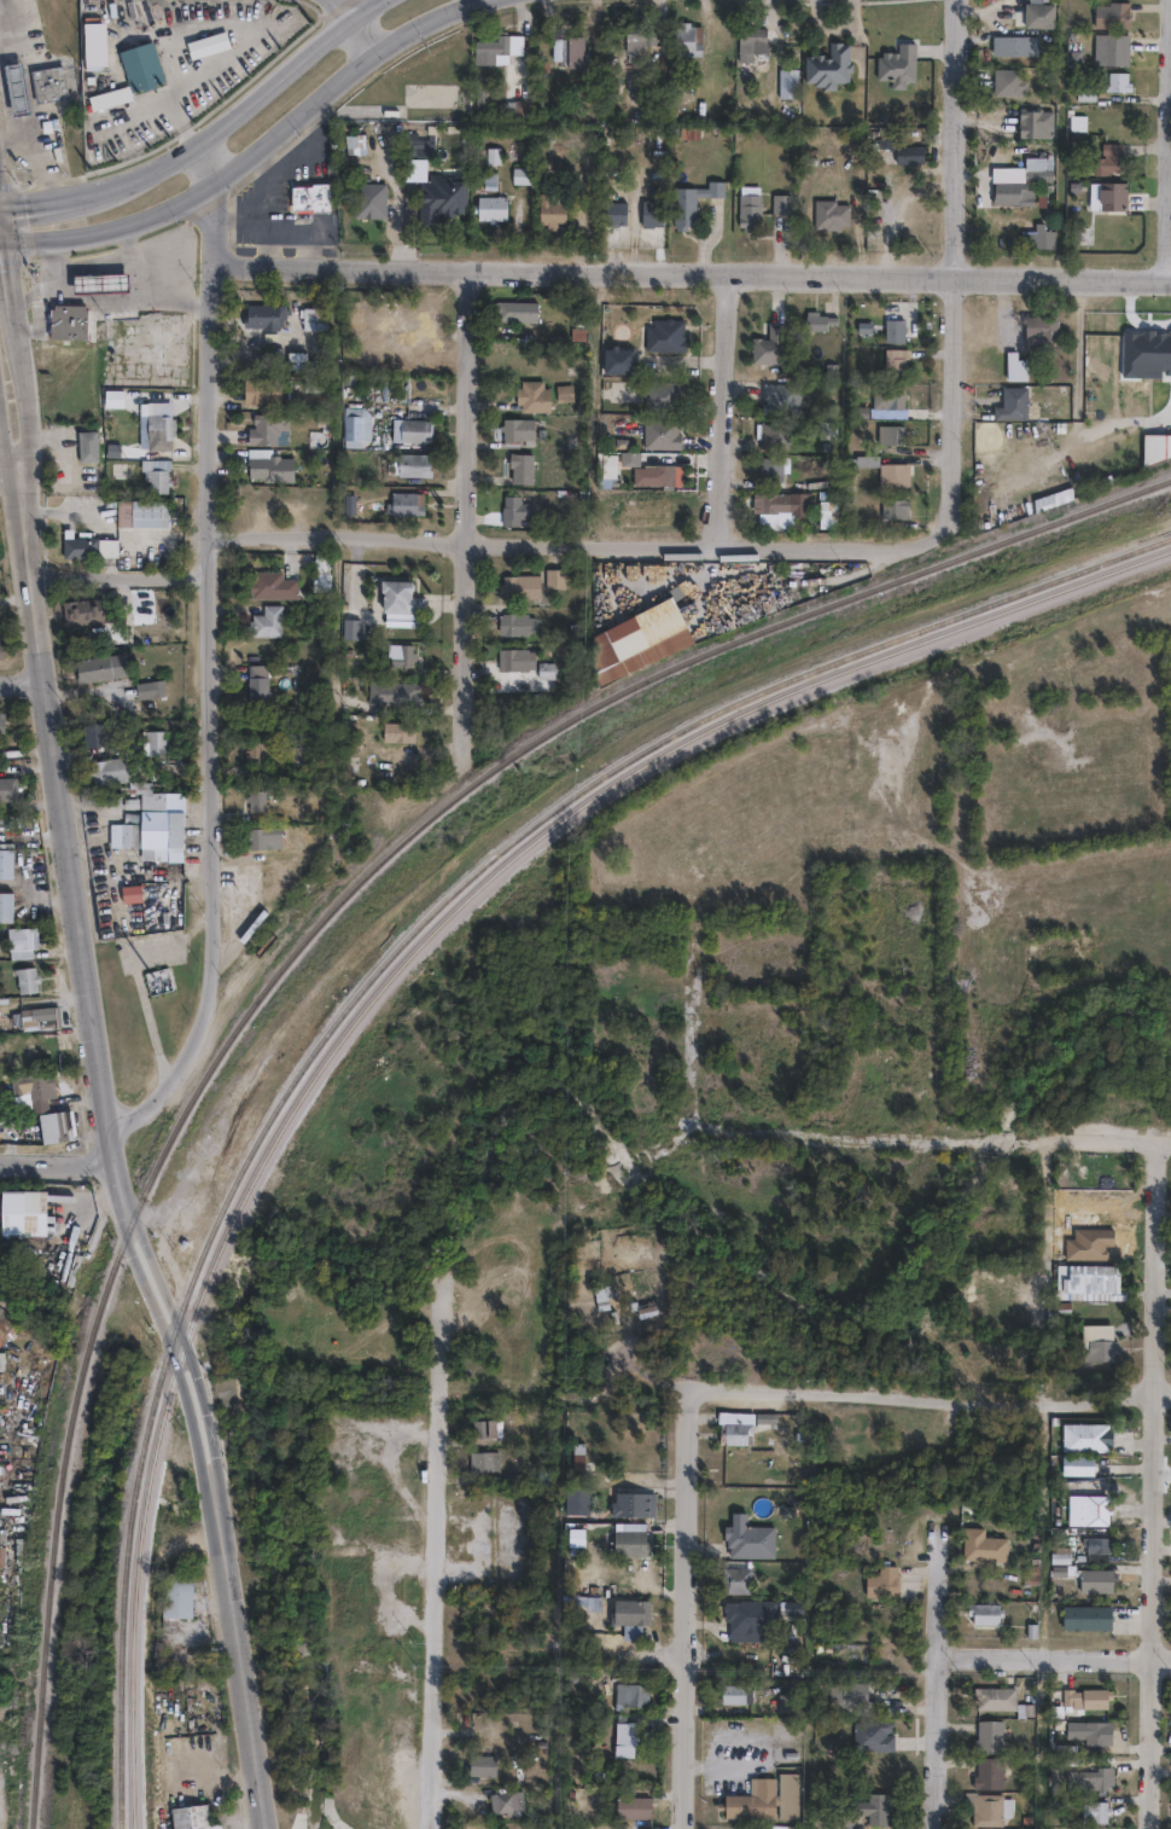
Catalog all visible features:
road: (216, 5)
road: (340, 10)
building: (1041, 12)
building: (1114, 12)
road: (11, 24)
road: (365, 36)
building: (688, 36)
building: (637, 40)
building: (751, 40)
building: (1016, 42)
building: (91, 45)
building: (208, 45)
building: (497, 46)
building: (559, 46)
building: (1115, 46)
building: (575, 48)
building: (899, 62)
road: (109, 64)
building: (829, 64)
building: (141, 65)
road: (209, 74)
building: (1012, 79)
building: (1120, 79)
building: (787, 81)
building: (47, 83)
building: (17, 87)
gas station: (17, 87)
building: (1088, 91)
building: (490, 94)
building: (1037, 116)
road: (206, 137)
road: (12, 141)
building: (418, 141)
building: (356, 143)
road: (6, 144)
road: (254, 151)
building: (910, 151)
building: (1108, 156)
road: (208, 162)
road: (293, 162)
building: (1036, 166)
building: (524, 173)
road: (1169, 186)
building: (1013, 190)
building: (1108, 192)
building: (311, 194)
road: (0, 197)
building: (455, 197)
building: (693, 199)
building: (366, 201)
building: (782, 201)
traffic signals: (1, 202)
road: (272, 202)
building: (491, 205)
building: (751, 205)
building: (552, 207)
building: (616, 209)
building: (652, 211)
building: (832, 214)
road: (4, 221)
road: (187, 222)
road: (275, 226)
building: (1037, 233)
road: (127, 238)
road: (4, 240)
traffic signals: (7, 240)
road: (272, 245)
road: (163, 249)
road: (956, 256)
road: (694, 272)
building: (100, 283)
gas station: (100, 283)
road: (12, 285)
road: (37, 286)
road: (25, 297)
building: (512, 308)
building: (262, 313)
building: (409, 313)
building: (310, 315)
building: (818, 318)
building: (69, 321)
building: (1042, 326)
building: (893, 327)
building: (664, 332)
building: (768, 343)
building: (1132, 355)
building: (295, 358)
building: (617, 358)
building: (895, 359)
building: (1015, 365)
building: (826, 366)
building: (310, 382)
building: (254, 388)
building: (563, 390)
road: (24, 391)
building: (660, 393)
building: (531, 394)
building: (780, 395)
building: (893, 395)
building: (110, 396)
building: (1012, 402)
road: (723, 408)
building: (156, 422)
building: (354, 424)
building: (263, 426)
building: (408, 429)
building: (825, 429)
road: (1, 430)
building: (514, 430)
building: (768, 430)
building: (659, 432)
building: (889, 434)
road: (56, 437)
building: (85, 446)
building: (1157, 446)
road: (6, 458)
building: (410, 464)
building: (519, 468)
building: (769, 468)
building: (269, 469)
building: (153, 474)
building: (651, 474)
building: (892, 474)
building: (1064, 495)
building: (406, 503)
building: (768, 503)
building: (893, 507)
building: (513, 510)
road: (57, 511)
building: (135, 512)
road: (470, 512)
building: (827, 518)
road: (584, 541)
building: (82, 542)
road: (121, 579)
building: (554, 580)
building: (269, 583)
building: (520, 587)
road: (212, 593)
building: (397, 598)
building: (81, 611)
building: (264, 620)
building: (515, 625)
building: (651, 633)
road: (1048, 640)
building: (2, 651)
building: (396, 656)
building: (515, 662)
building: (99, 668)
building: (543, 669)
road: (21, 681)
building: (255, 681)
building: (150, 689)
building: (390, 693)
building: (1, 721)
building: (93, 733)
building: (395, 733)
building: (153, 741)
building: (257, 754)
building: (295, 755)
building: (110, 770)
building: (4, 783)
building: (252, 801)
building: (161, 821)
building: (130, 831)
road: (39, 837)
building: (261, 838)
building: (2, 858)
road: (37, 895)
building: (1, 902)
railway: (321, 923)
road: (120, 928)
building: (13, 937)
railway: (379, 972)
building: (18, 975)
building: (28, 980)
railway: (389, 983)
road: (697, 1001)
building: (31, 1012)
building: (24, 1082)
road: (163, 1086)
road: (80, 1099)
building: (47, 1120)
road: (931, 1140)
road: (105, 1145)
road: (53, 1160)
building: (1074, 1202)
road: (1043, 1203)
road: (92, 1204)
building: (8, 1208)
building: (1085, 1279)
building: (651, 1307)
building: (1094, 1340)
road: (938, 1403)
building: (528, 1421)
building: (730, 1424)
building: (488, 1429)
building: (793, 1433)
building: (1083, 1434)
building: (479, 1458)
building: (1077, 1467)
road: (1158, 1485)
building: (571, 1497)
building: (627, 1502)
building: (1084, 1506)
building: (742, 1535)
building: (625, 1540)
building: (980, 1543)
building: (1093, 1545)
building: (1055, 1552)
building: (634, 1570)
building: (732, 1574)
building: (1091, 1578)
building: (878, 1580)
building: (168, 1596)
road: (202, 1602)
building: (785, 1606)
building: (625, 1609)
building: (980, 1610)
road: (437, 1612)
road: (689, 1613)
building: (1083, 1615)
building: (746, 1618)
road: (1055, 1657)
road: (939, 1679)
building: (627, 1689)
building: (844, 1690)
building: (730, 1691)
building: (1083, 1697)
building: (785, 1700)
building: (997, 1700)
building: (869, 1732)
building: (1093, 1732)
building: (986, 1736)
building: (619, 1737)
building: (477, 1767)
building: (985, 1772)
building: (1091, 1777)
road: (221, 1778)
building: (764, 1796)
building: (501, 1800)
building: (629, 1805)
building: (870, 1806)
building: (983, 1807)
building: (1091, 1811)
building: (186, 1817)
building: (773, 1828)
building: (843, 1828)

